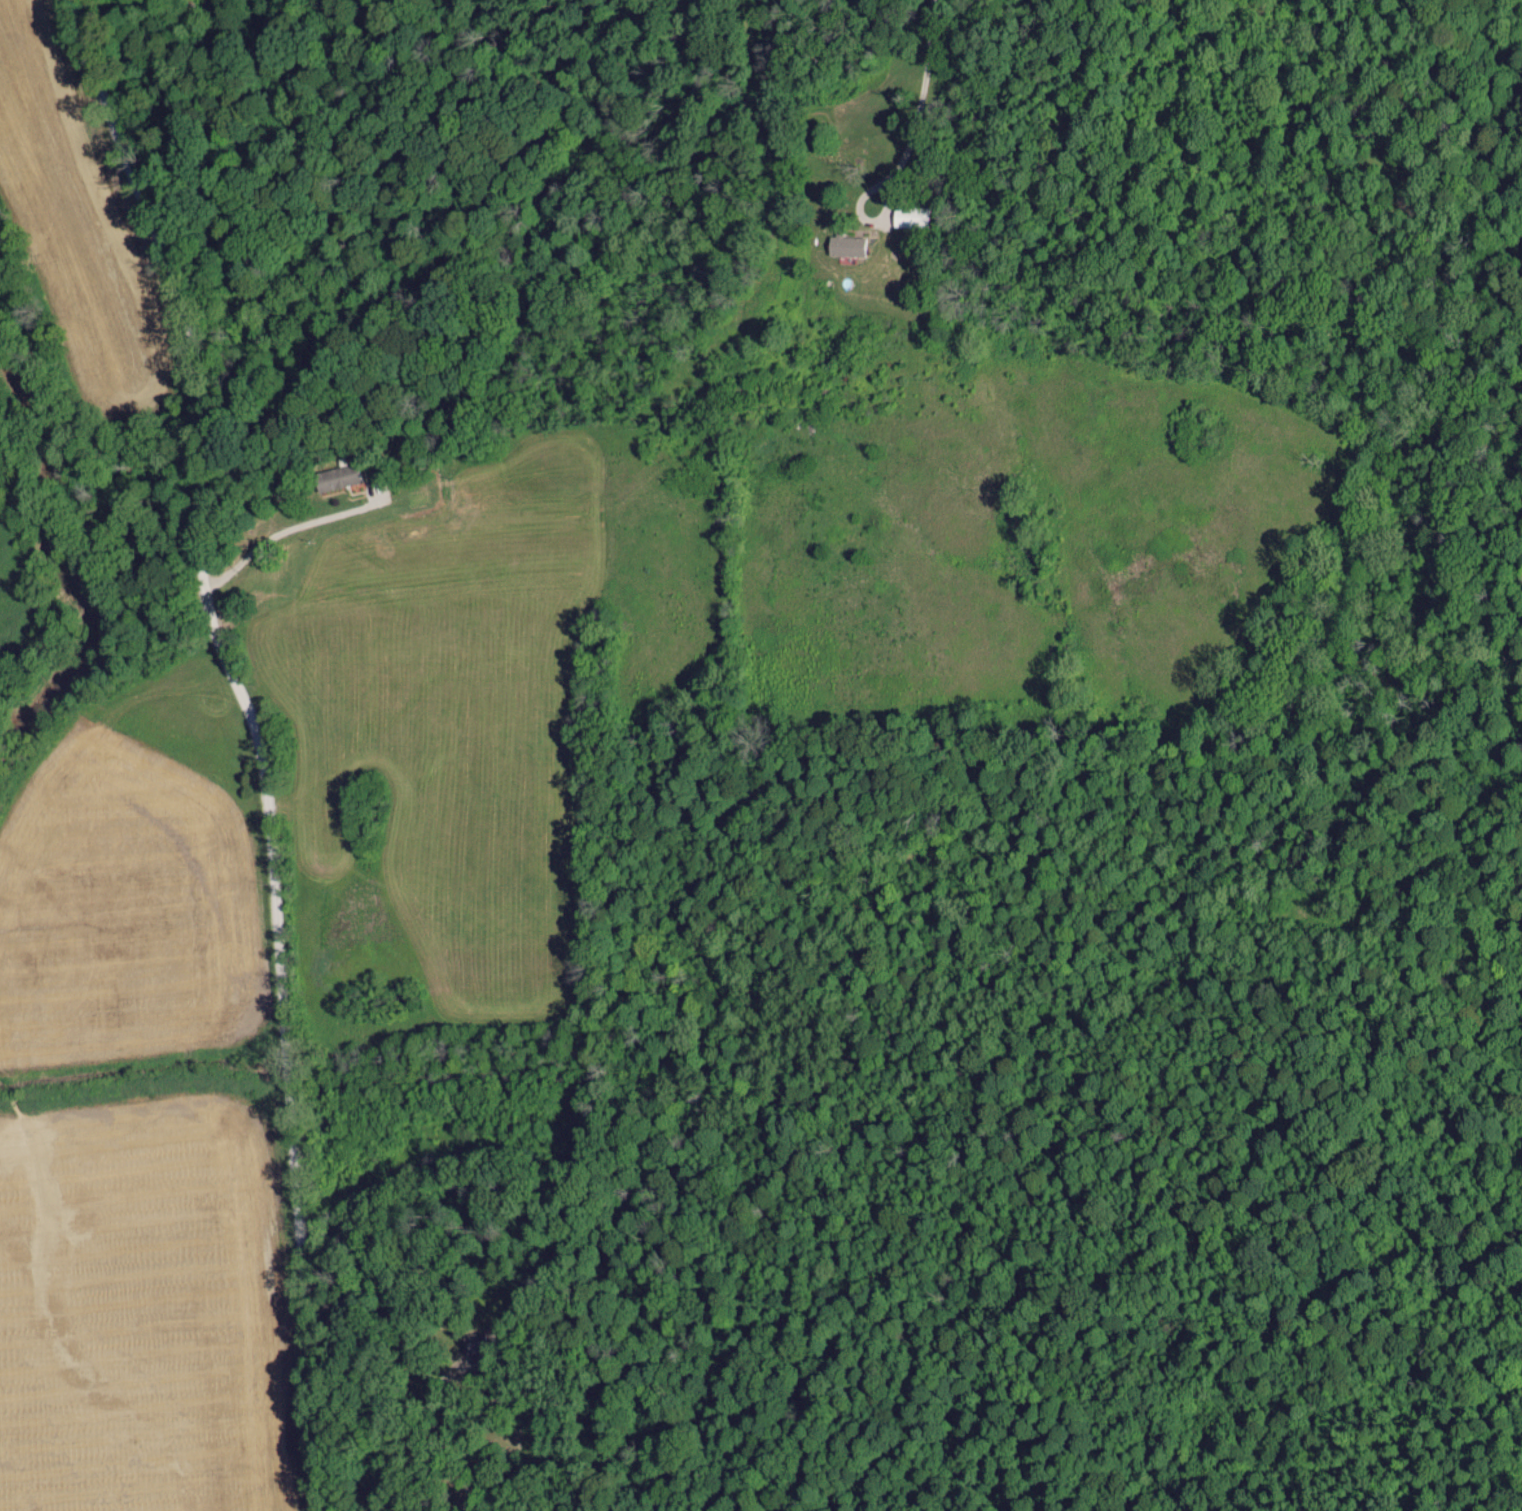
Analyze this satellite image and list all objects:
building: (843, 245)
building: (336, 477)
road: (253, 741)

